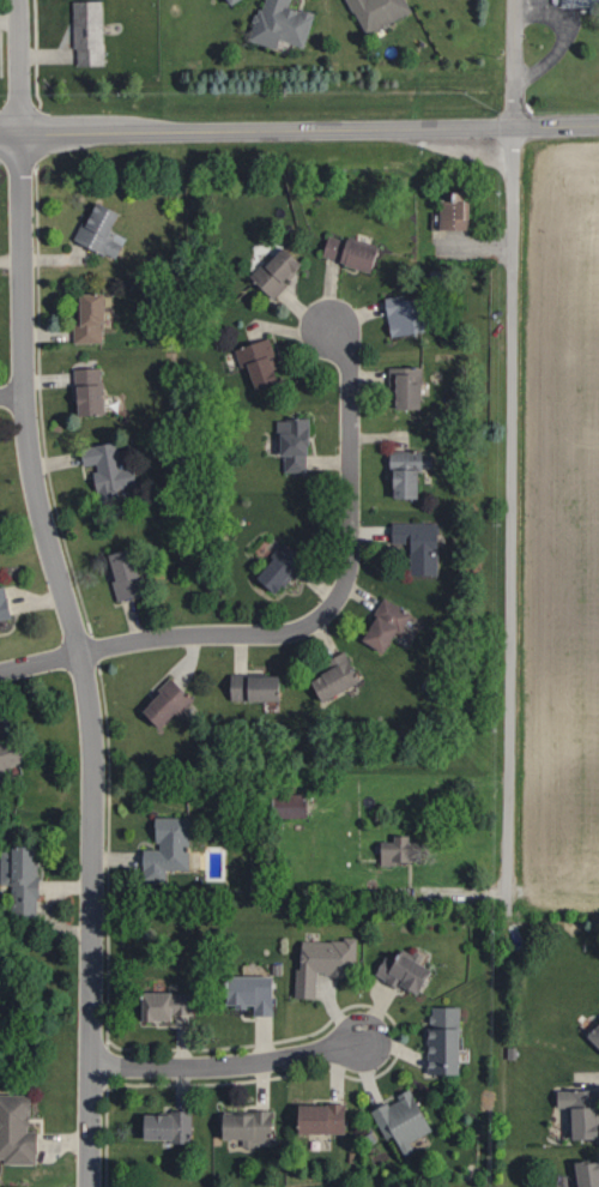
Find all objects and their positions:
building: (222, 0)
building: (575, 1)
building: (371, 12)
building: (276, 23)
building: (85, 29)
road: (514, 64)
road: (19, 66)
road: (298, 129)
road: (11, 159)
building: (448, 210)
building: (95, 230)
building: (345, 252)
building: (270, 271)
building: (394, 314)
building: (83, 317)
building: (252, 361)
building: (400, 387)
building: (80, 391)
road: (12, 396)
building: (286, 442)
building: (102, 469)
building: (399, 471)
road: (508, 513)
building: (413, 544)
building: (270, 568)
building: (116, 573)
road: (339, 595)
building: (1, 607)
building: (380, 622)
road: (79, 657)
road: (38, 662)
building: (328, 676)
building: (248, 686)
building: (158, 704)
building: (5, 753)
building: (282, 803)
building: (162, 845)
building: (389, 849)
building: (17, 878)
building: (316, 960)
building: (243, 990)
building: (157, 1002)
building: (592, 1032)
building: (437, 1037)
road: (228, 1065)
building: (571, 1109)
building: (313, 1116)
building: (397, 1119)
building: (159, 1123)
building: (240, 1125)
building: (13, 1129)
building: (583, 1173)

